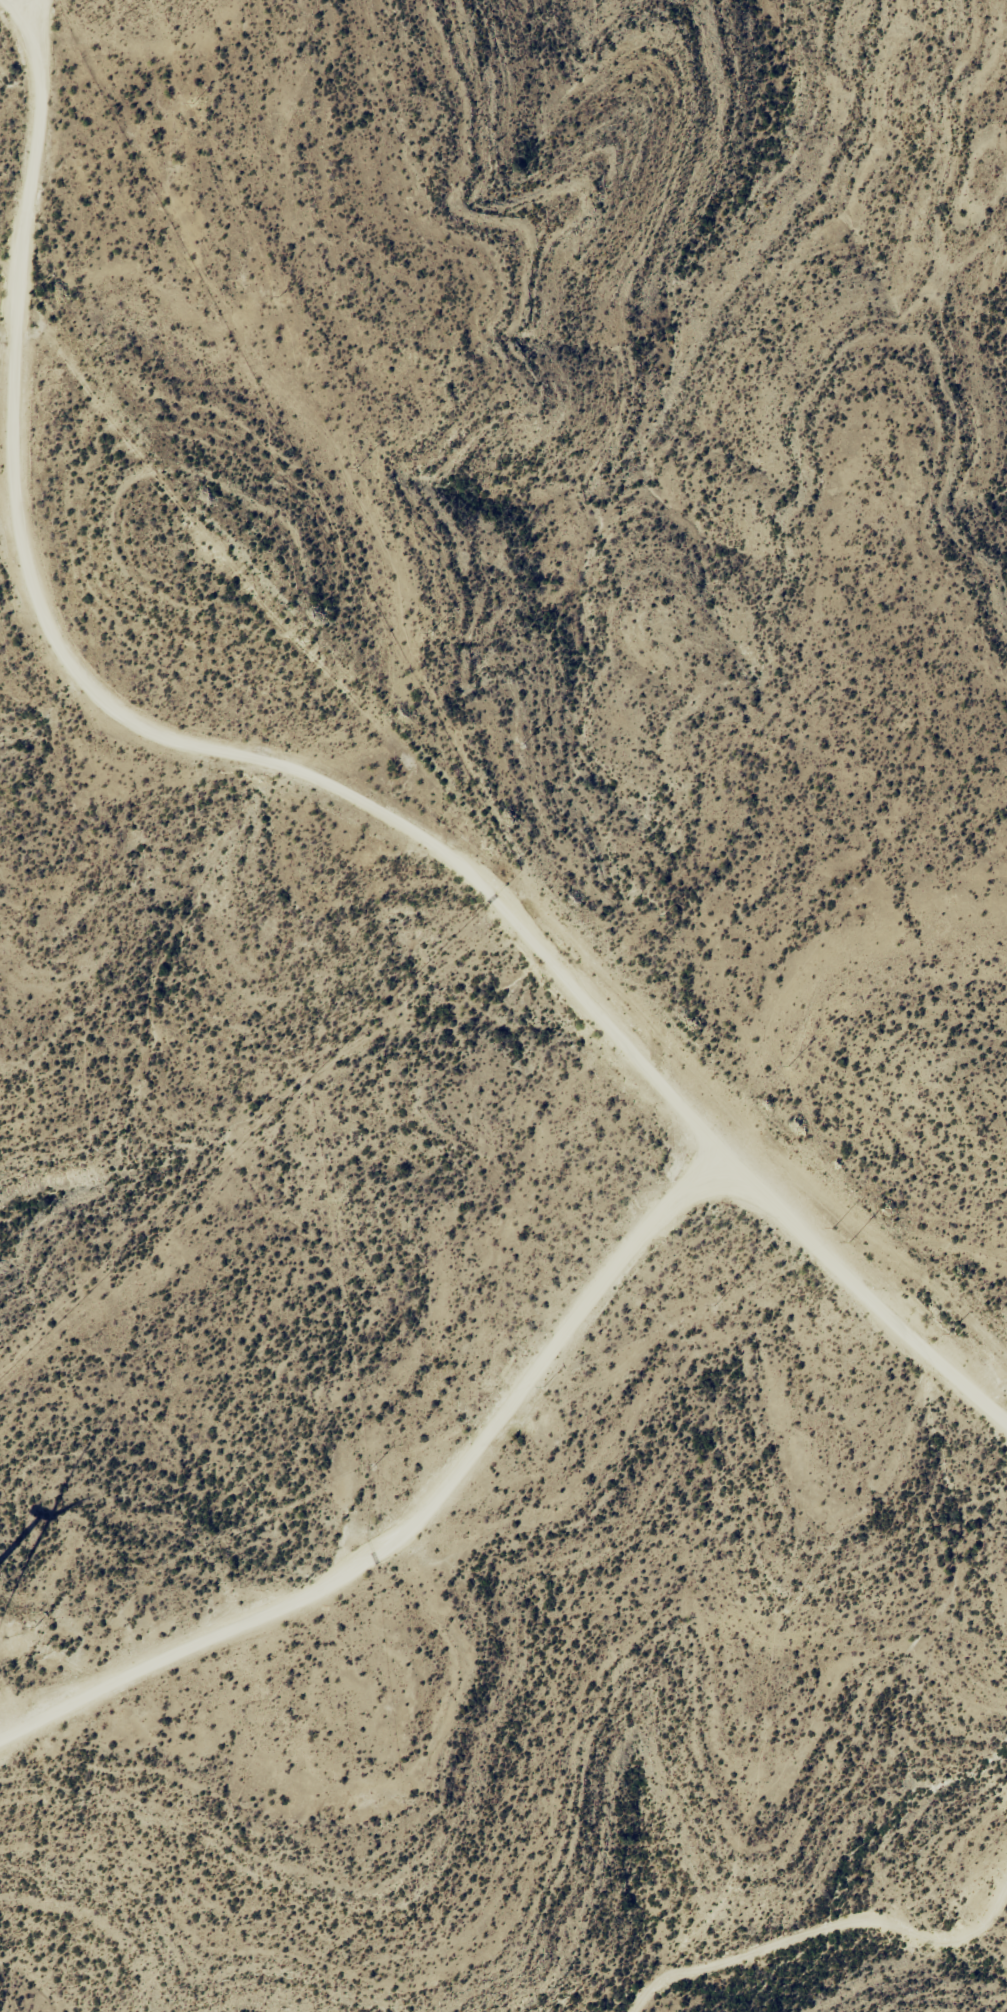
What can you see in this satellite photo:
road: (529, 1460)
road: (842, 1951)

